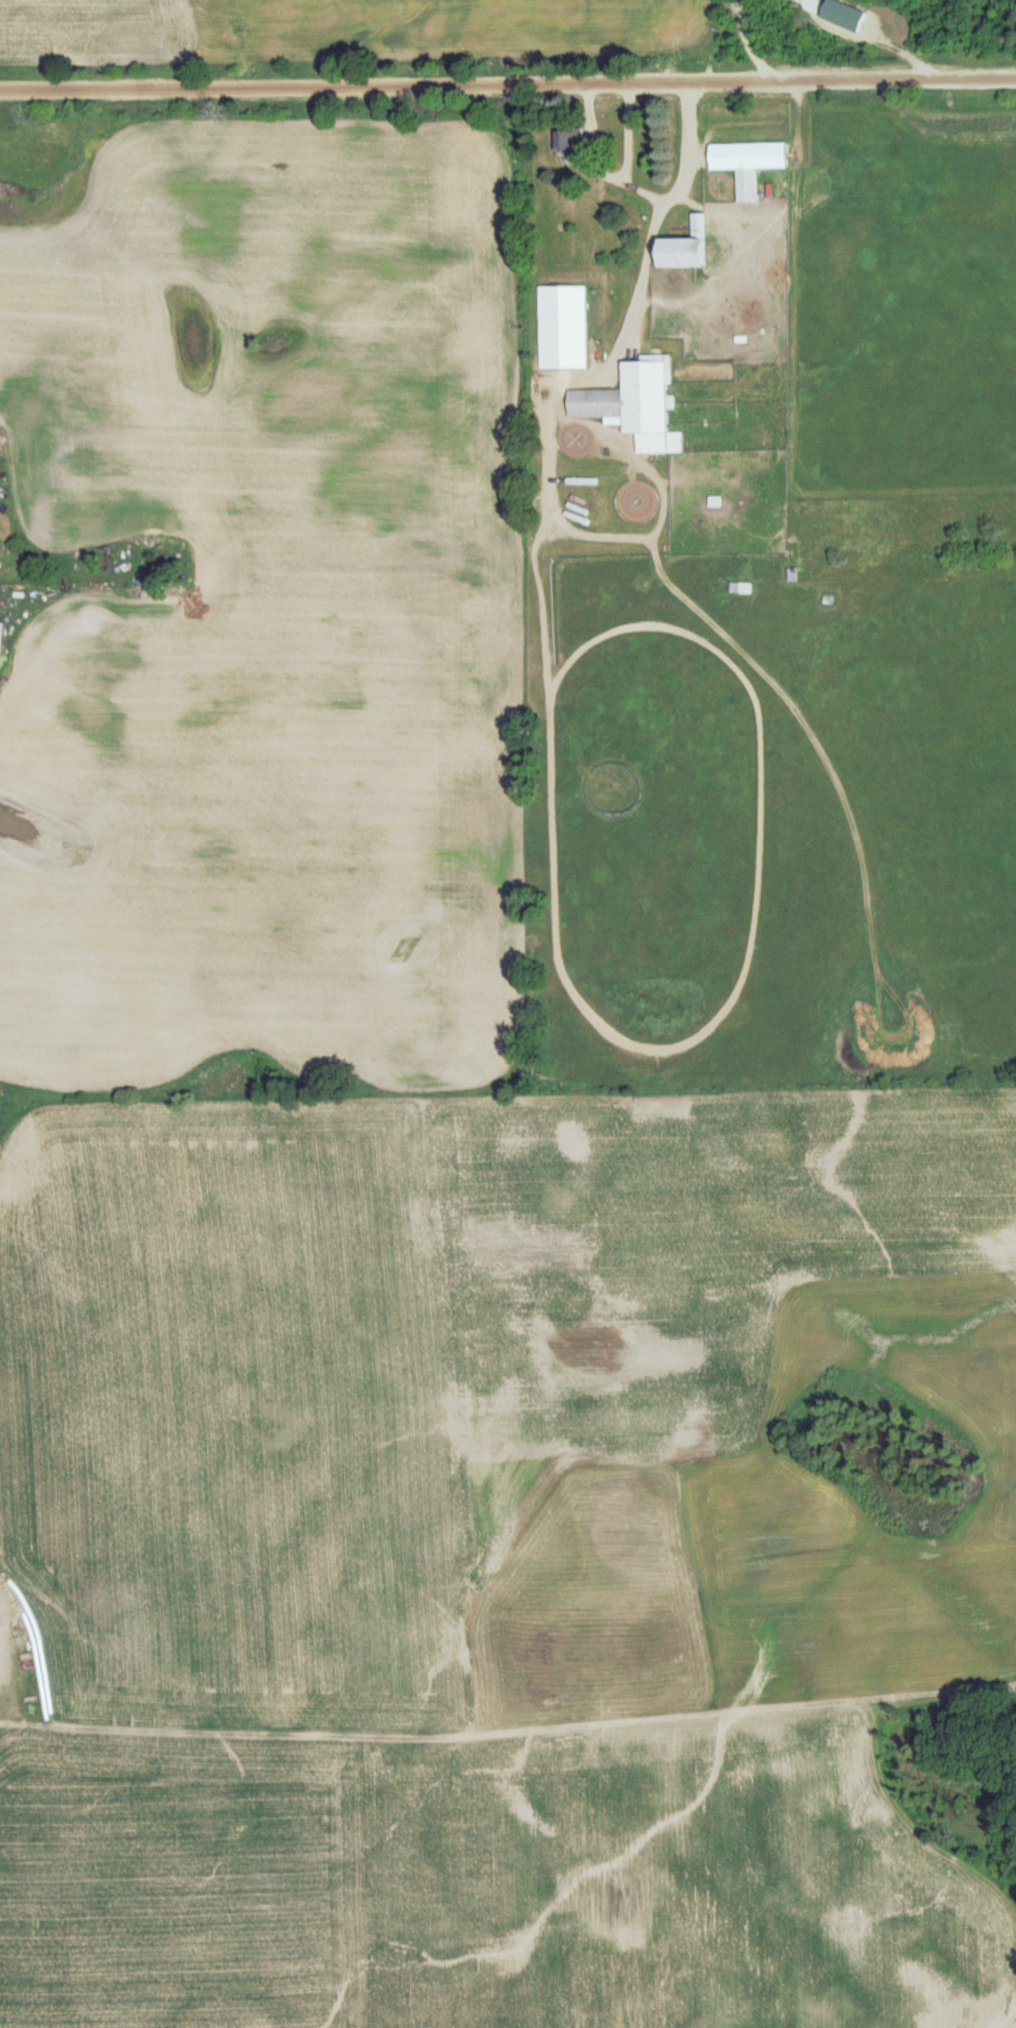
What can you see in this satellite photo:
road: (508, 85)
road: (629, 132)
building: (569, 147)
road: (597, 163)
building: (747, 186)
road: (657, 218)
building: (685, 247)
building: (635, 404)
building: (740, 589)
building: (2, 639)

